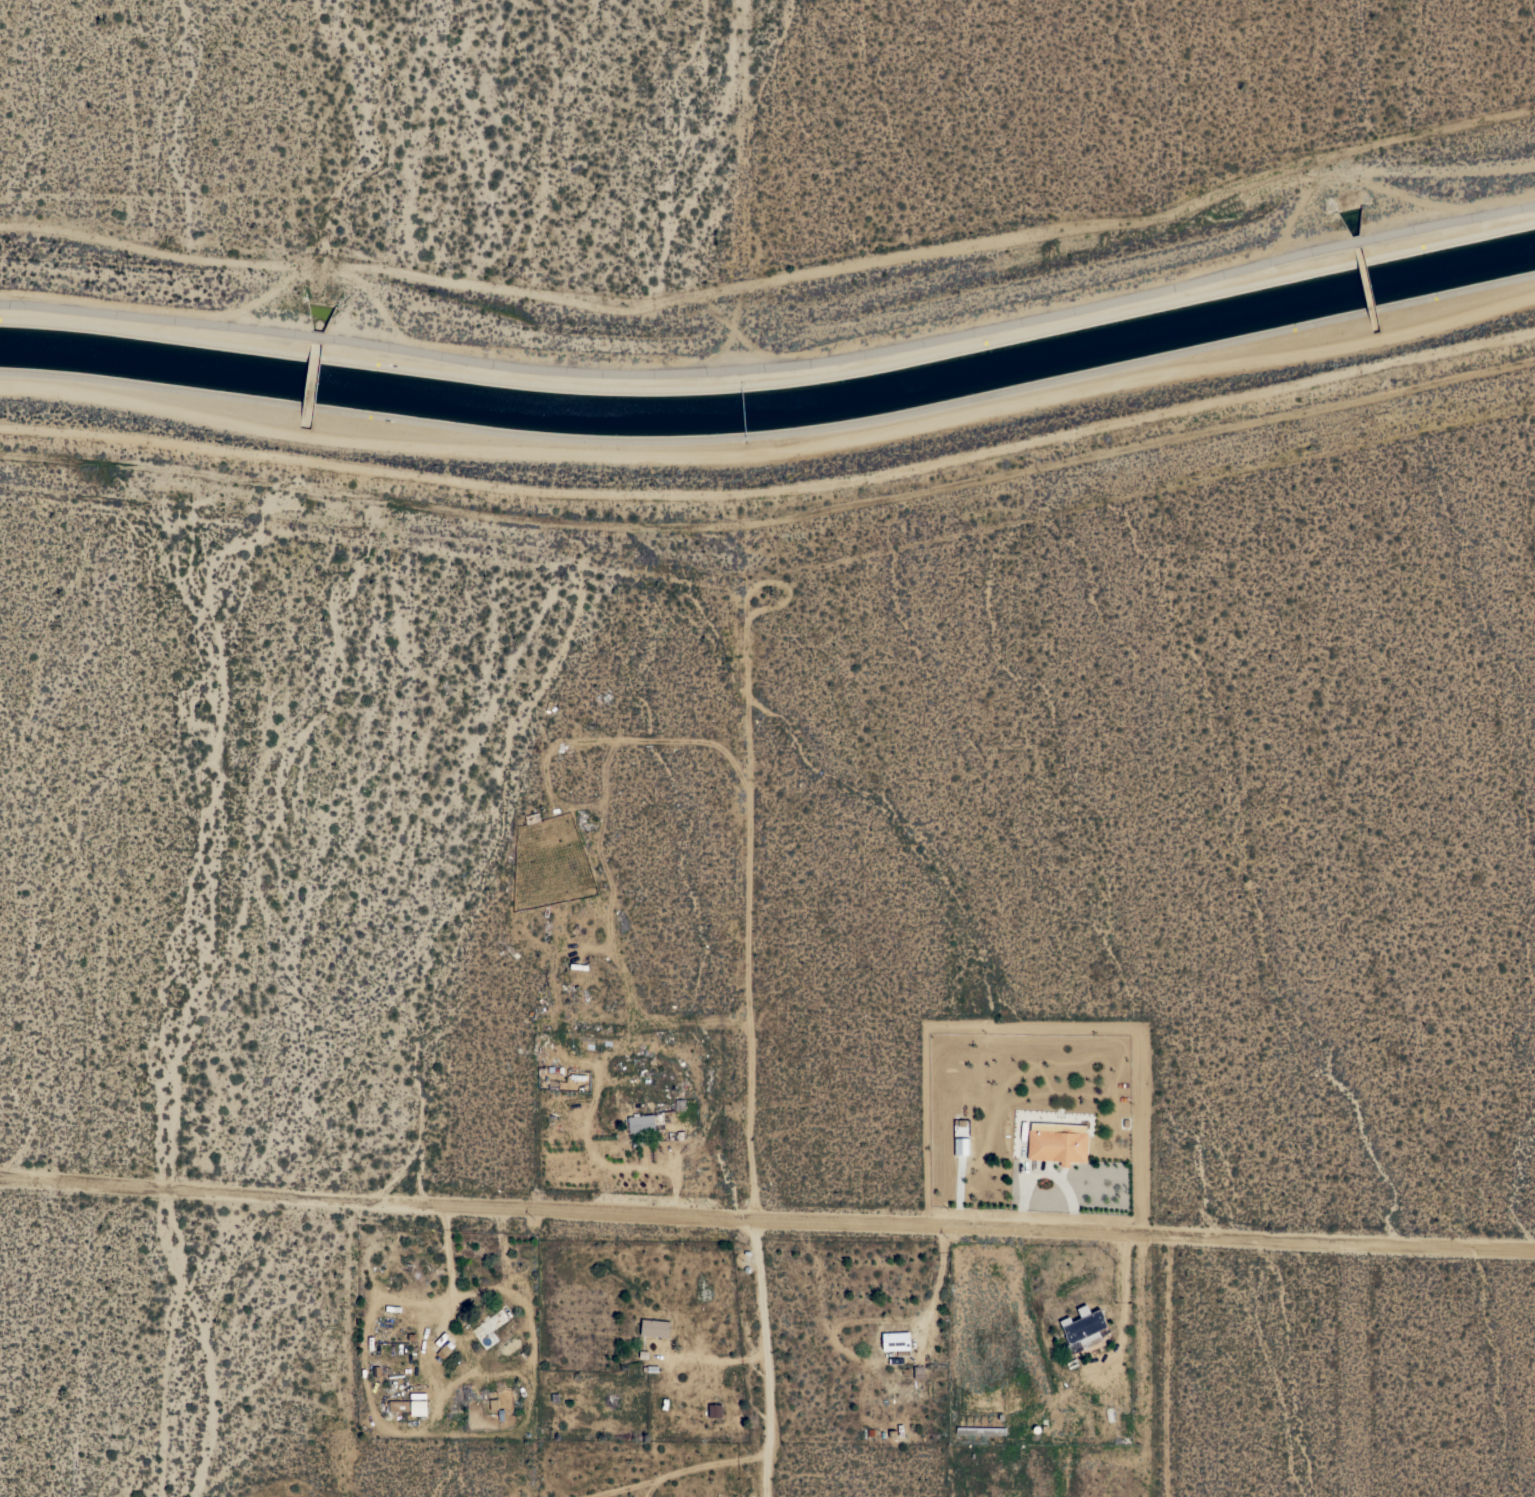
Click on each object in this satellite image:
road: (716, 1021)
building: (643, 1123)
building: (1057, 1142)
road: (766, 1223)
building: (654, 1328)
building: (1082, 1329)
building: (896, 1342)
building: (443, 1352)
road: (776, 1359)
road: (1168, 1366)
building: (918, 1372)
building: (399, 1405)
building: (417, 1408)
building: (714, 1410)
building: (1094, 1422)
building: (1119, 1424)
building: (980, 1431)
road: (682, 1472)

